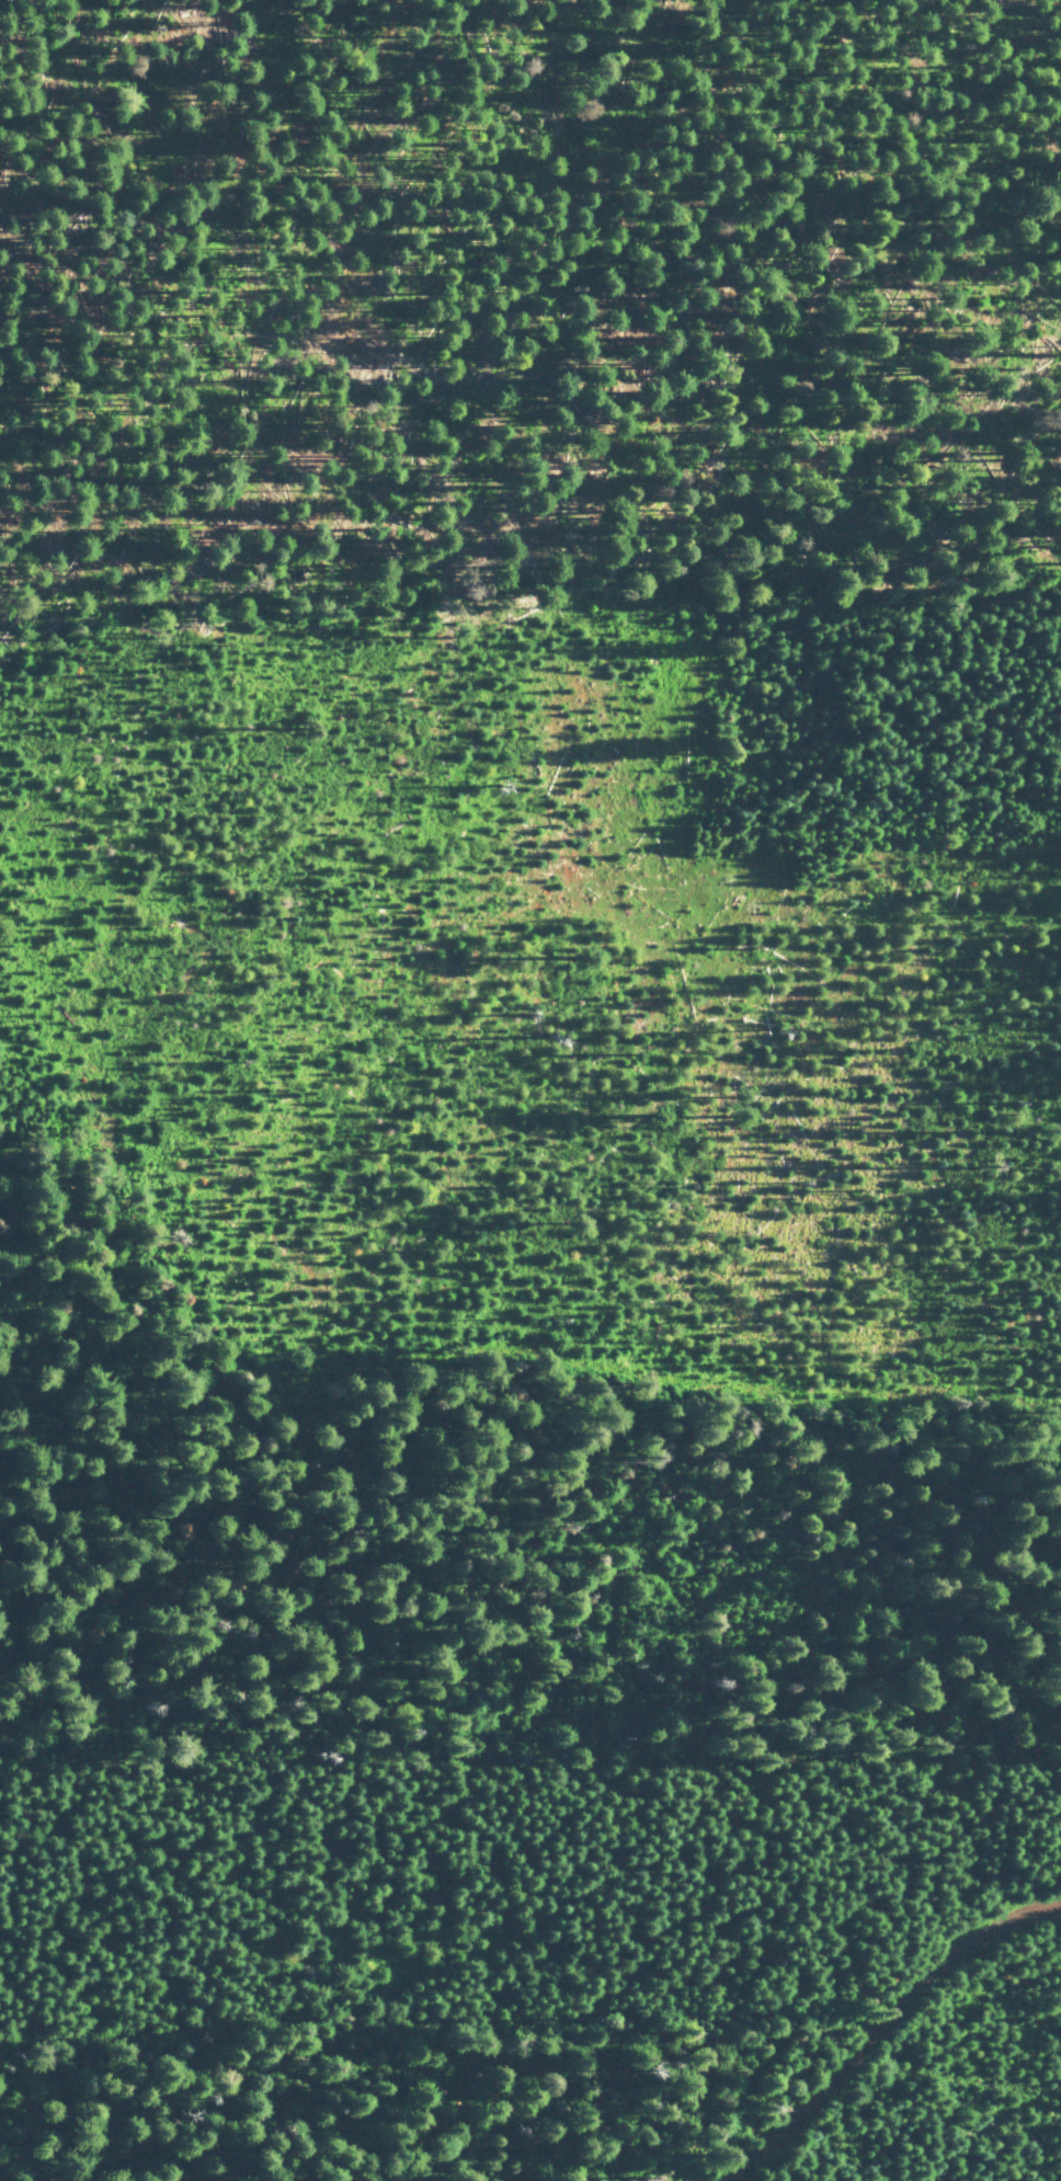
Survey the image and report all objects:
road: (880, 2020)

